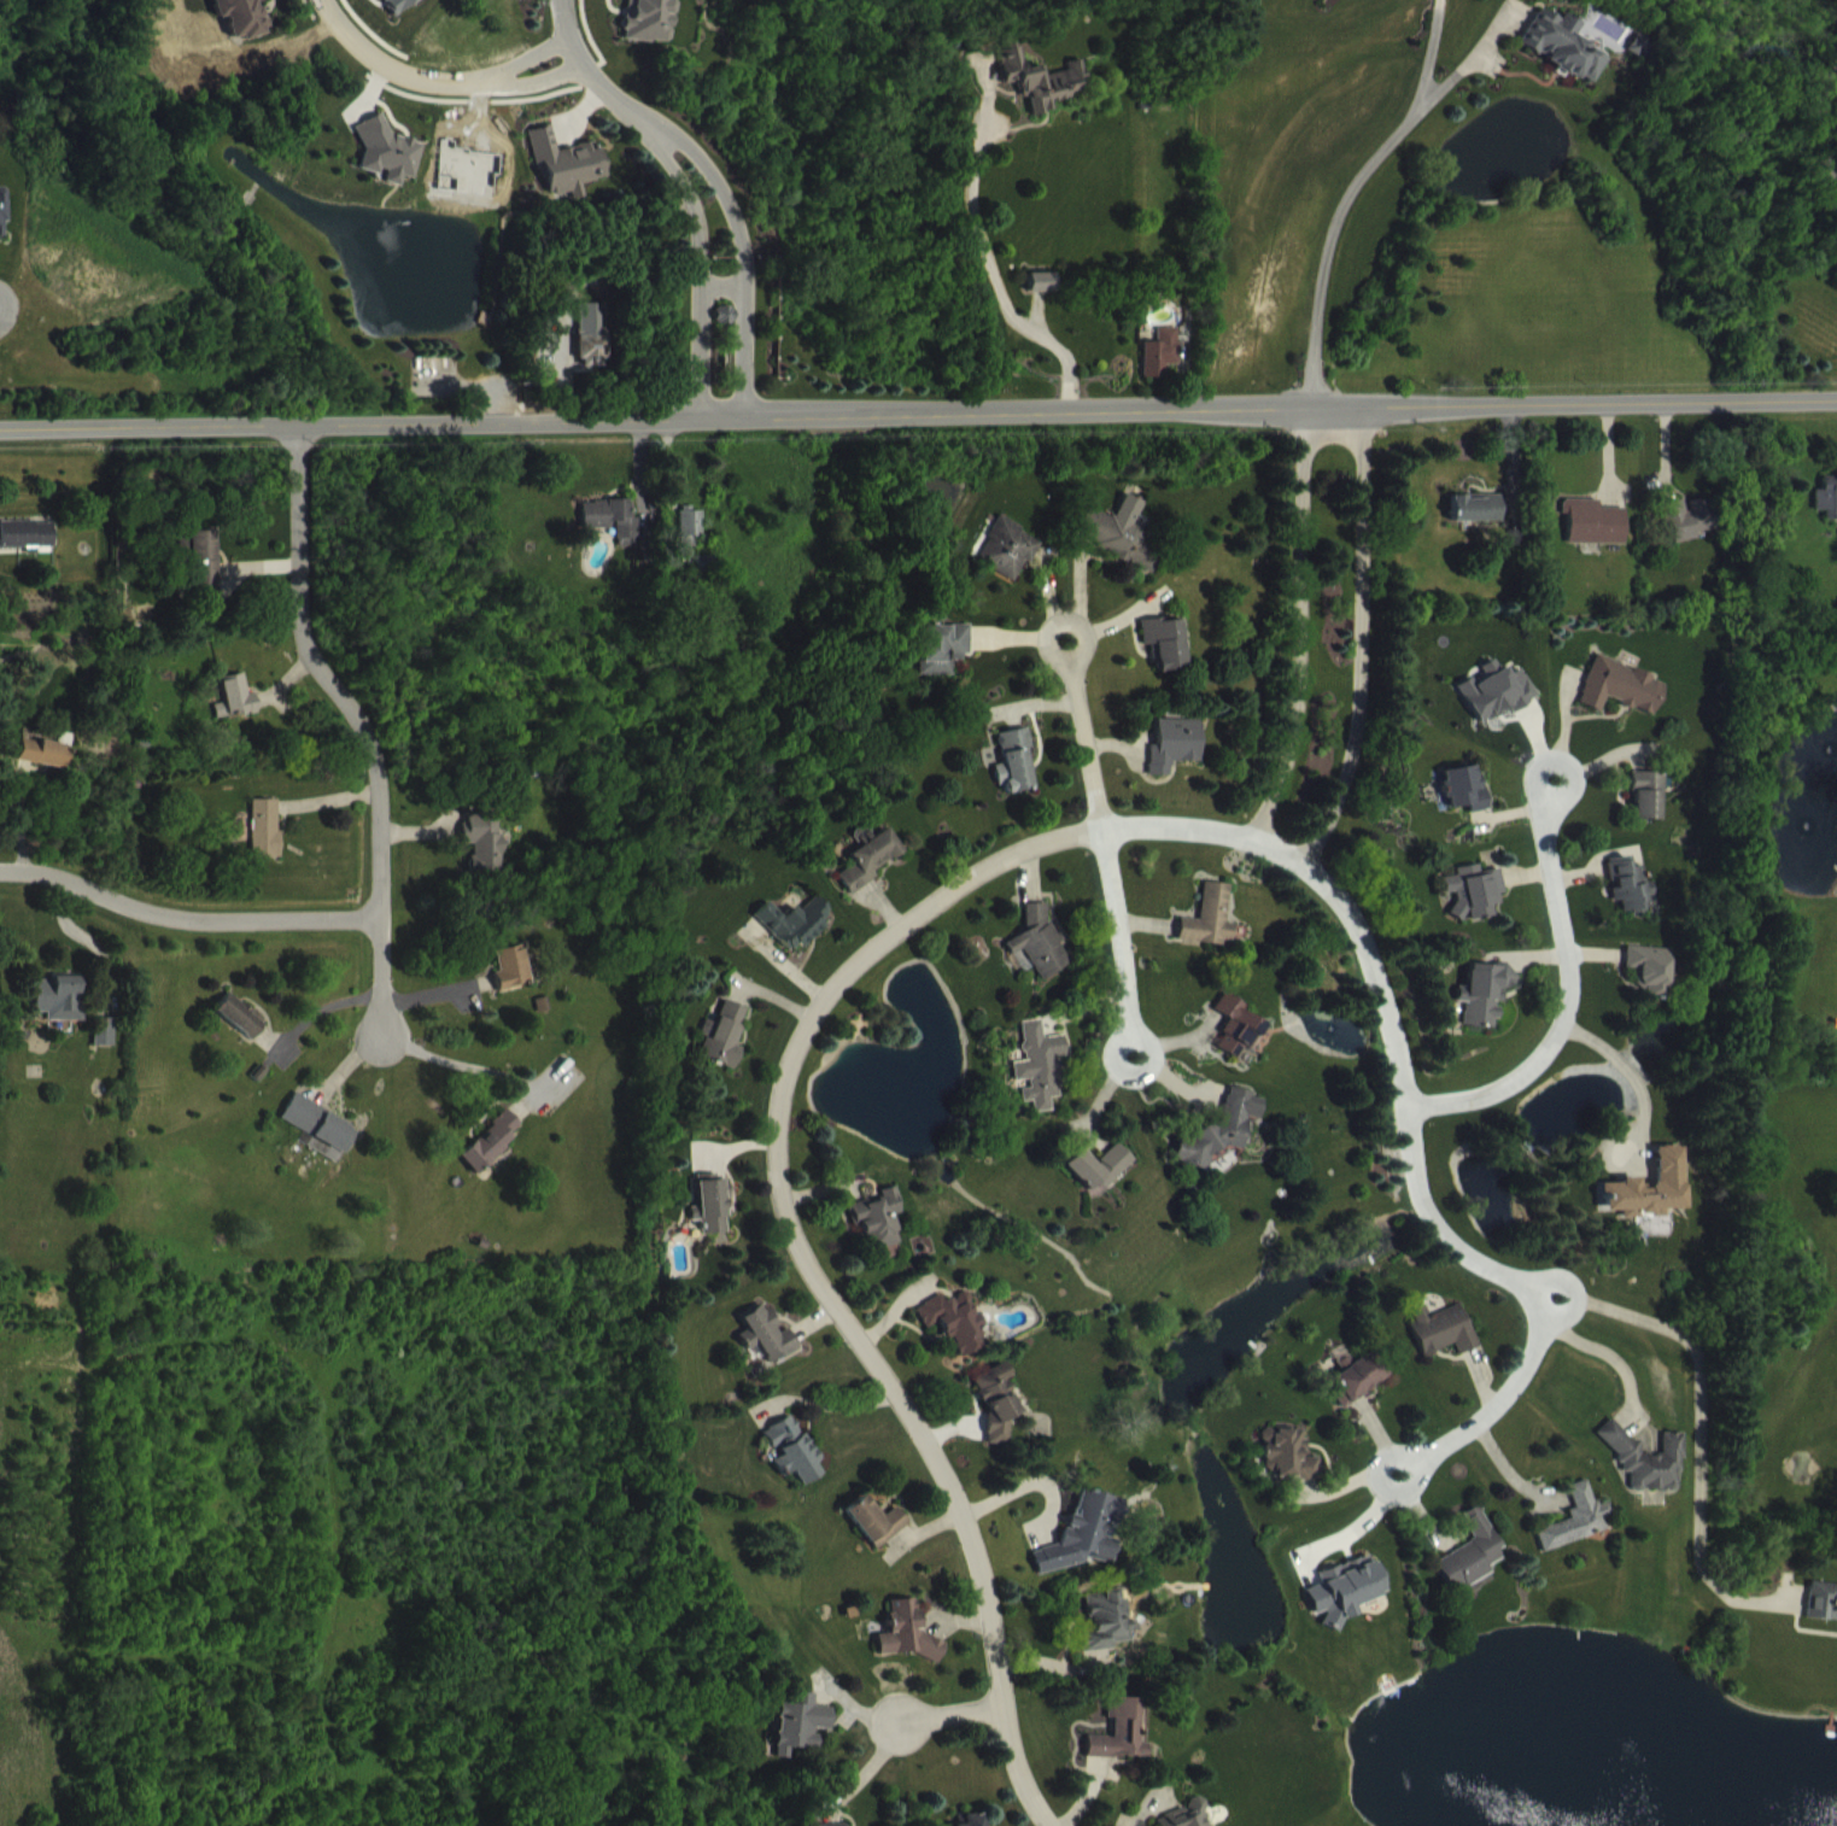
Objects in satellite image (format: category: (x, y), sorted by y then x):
building: (403, 10)
building: (244, 24)
building: (645, 28)
road: (521, 57)
road: (387, 62)
road: (587, 66)
road: (531, 82)
building: (1041, 95)
road: (1818, 116)
building: (388, 166)
building: (568, 178)
road: (1341, 199)
building: (2, 229)
road: (741, 254)
road: (698, 269)
road: (994, 280)
road: (722, 283)
building: (1045, 298)
building: (726, 330)
building: (593, 347)
building: (1163, 369)
road: (918, 433)
building: (1827, 514)
building: (1478, 523)
building: (1689, 534)
building: (614, 537)
building: (1593, 539)
building: (691, 543)
building: (1121, 549)
building: (29, 551)
building: (1010, 564)
building: (203, 575)
road: (1304, 634)
road: (1367, 652)
building: (1166, 659)
building: (942, 665)
building: (1621, 702)
building: (1497, 709)
building: (239, 714)
road: (1087, 731)
road: (367, 735)
building: (1176, 761)
building: (46, 769)
building: (1016, 777)
building: (1464, 804)
building: (1646, 812)
building: (268, 844)
building: (482, 858)
building: (870, 876)
building: (1628, 901)
building: (1476, 907)
road: (187, 926)
building: (1212, 934)
building: (795, 938)
road: (1121, 941)
building: (1042, 958)
building: (513, 984)
building: (1650, 985)
road: (1566, 991)
building: (1486, 1009)
building: (60, 1014)
building: (242, 1032)
building: (1239, 1043)
building: (106, 1048)
building: (725, 1052)
road: (1620, 1059)
road: (462, 1060)
building: (1042, 1082)
road: (1405, 1102)
building: (323, 1143)
building: (1222, 1145)
building: (495, 1158)
road: (774, 1170)
building: (1100, 1182)
building: (1648, 1206)
building: (714, 1221)
building: (881, 1234)
building: (958, 1338)
building: (1444, 1346)
building: (768, 1352)
building: (1358, 1393)
road: (1492, 1401)
building: (1000, 1418)
road: (1696, 1418)
building: (795, 1467)
building: (1289, 1470)
building: (1649, 1474)
building: (878, 1537)
building: (1580, 1537)
building: (1083, 1550)
building: (1474, 1569)
building: (1349, 1604)
building: (1825, 1616)
building: (1107, 1637)
building: (909, 1649)
road: (948, 1716)
building: (802, 1740)
building: (1122, 1748)
building: (1195, 1822)

